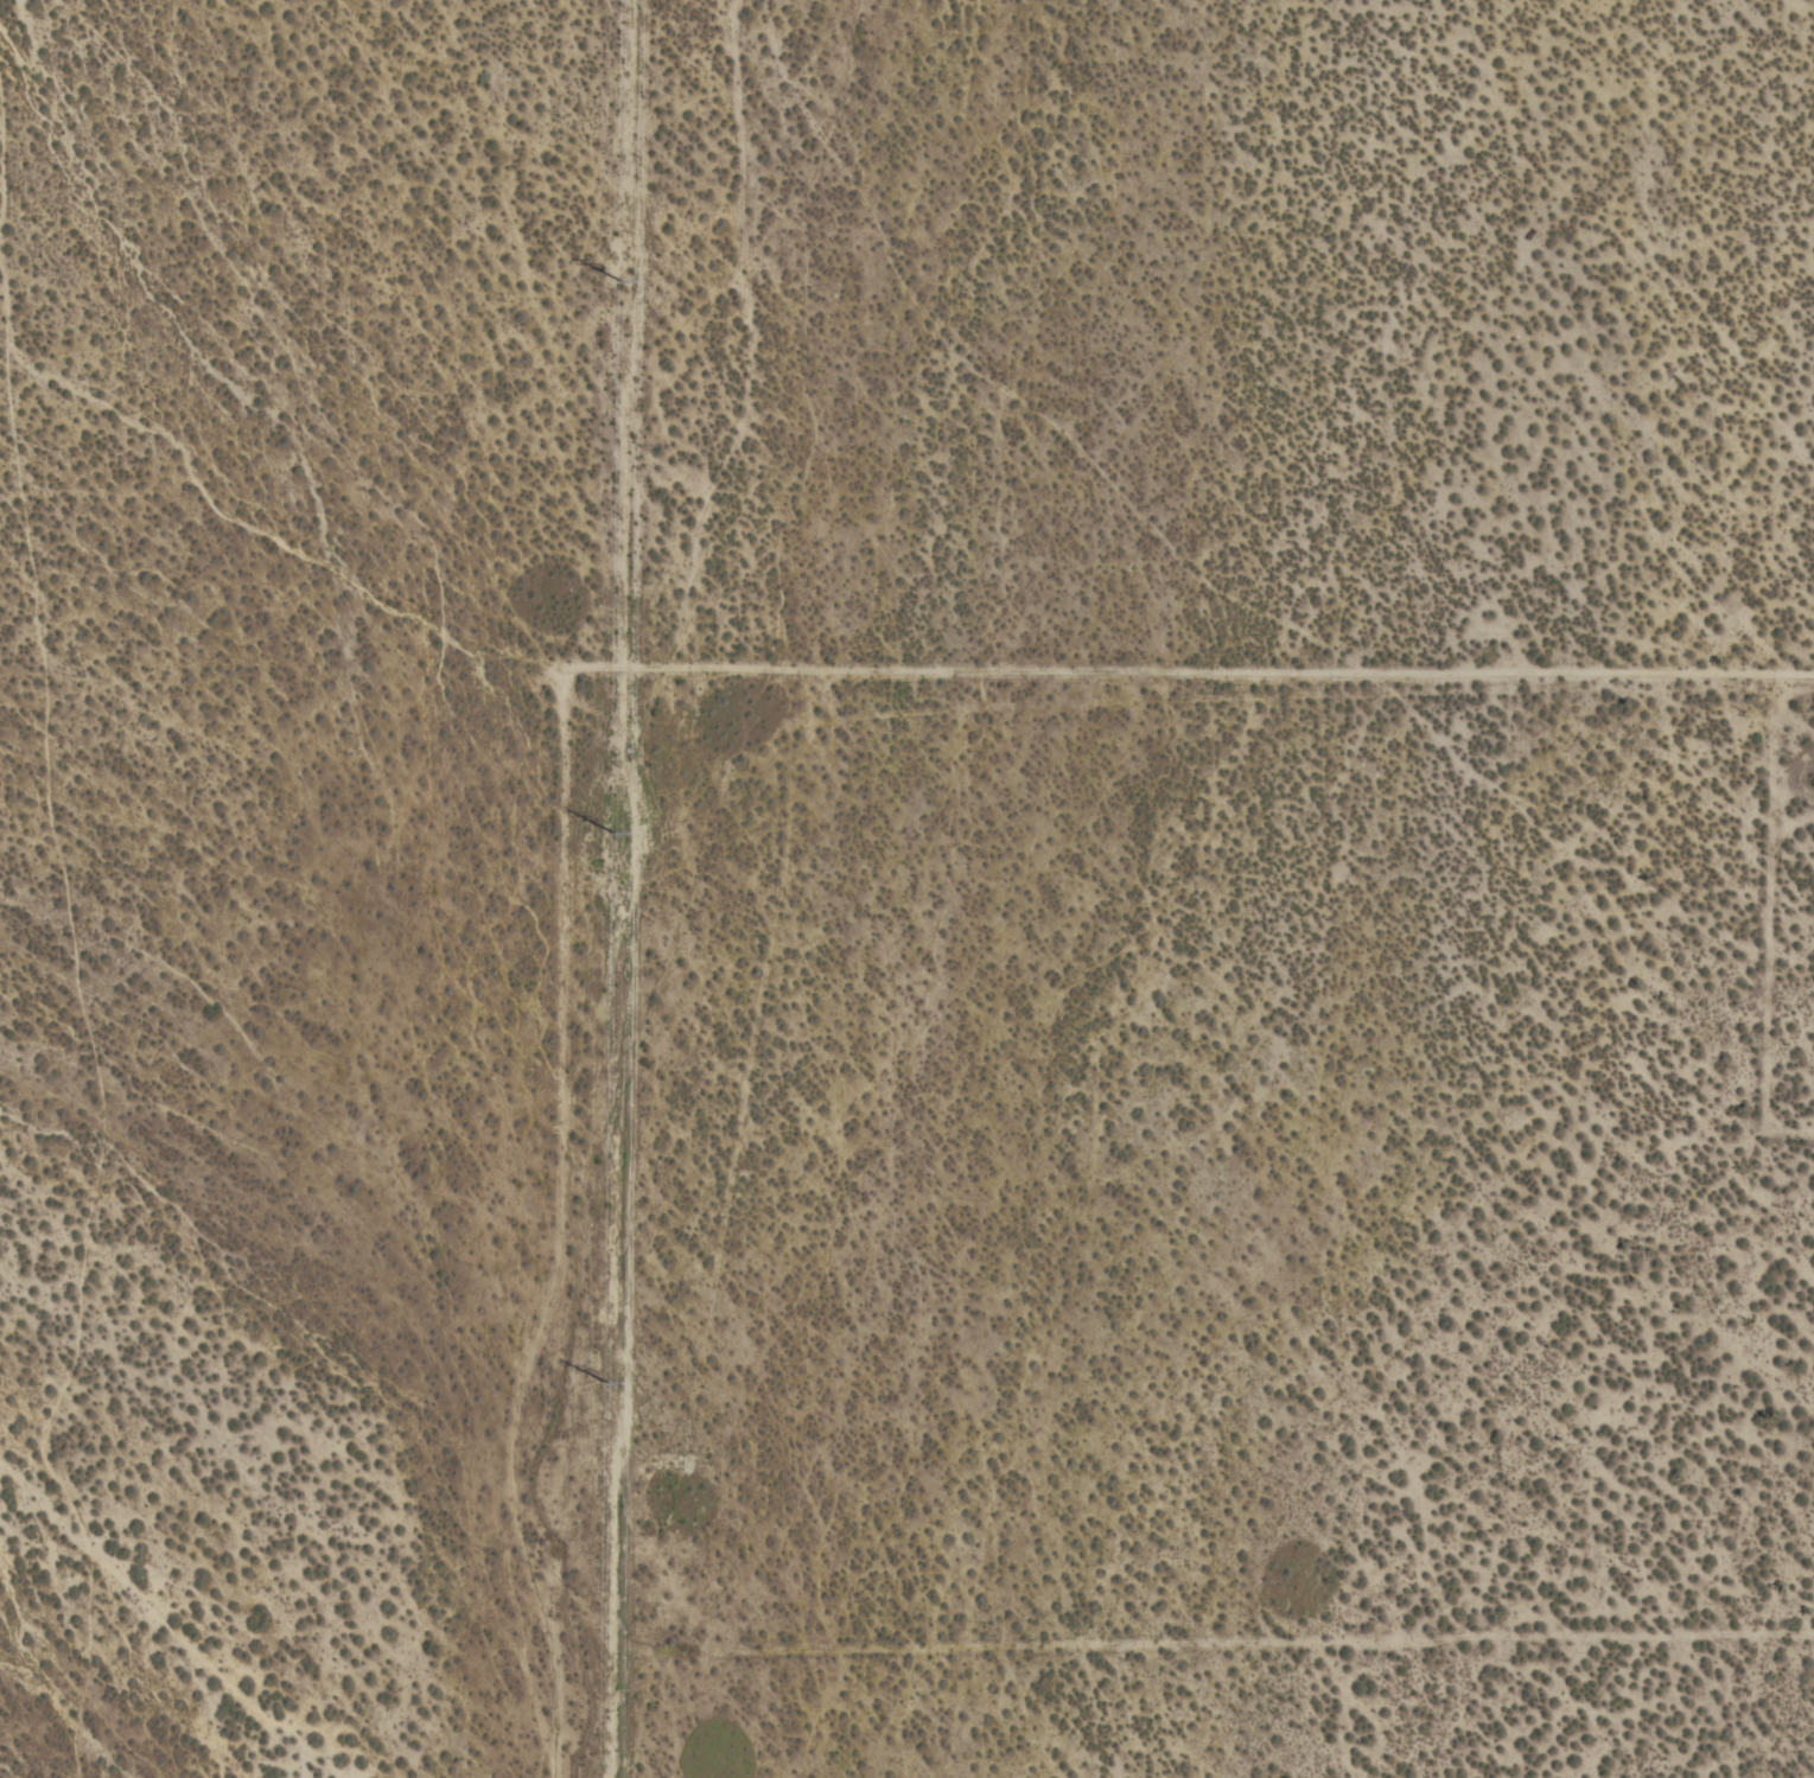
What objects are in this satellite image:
road: (0, 2)
power tower: (623, 281)
power tower: (613, 830)
power tower: (611, 1375)

